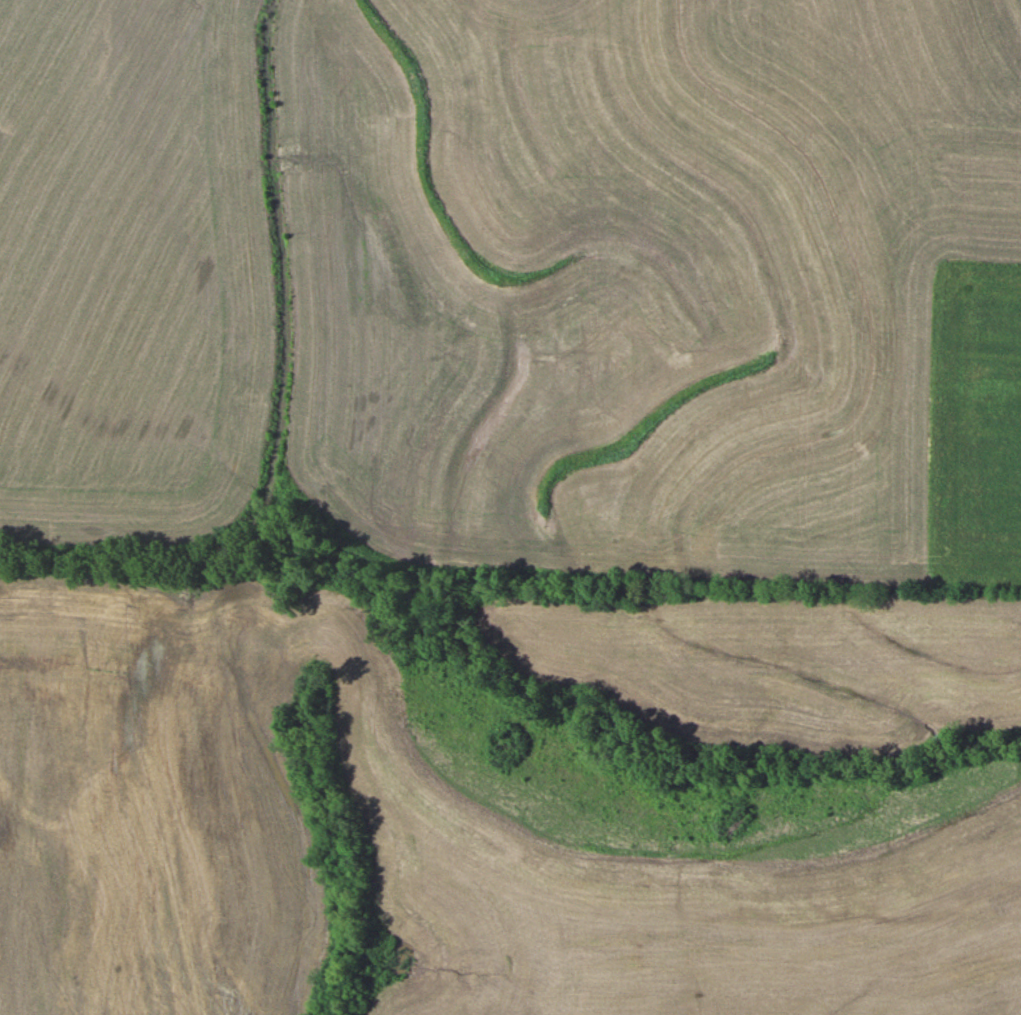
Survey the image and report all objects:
river: (8, 815)

